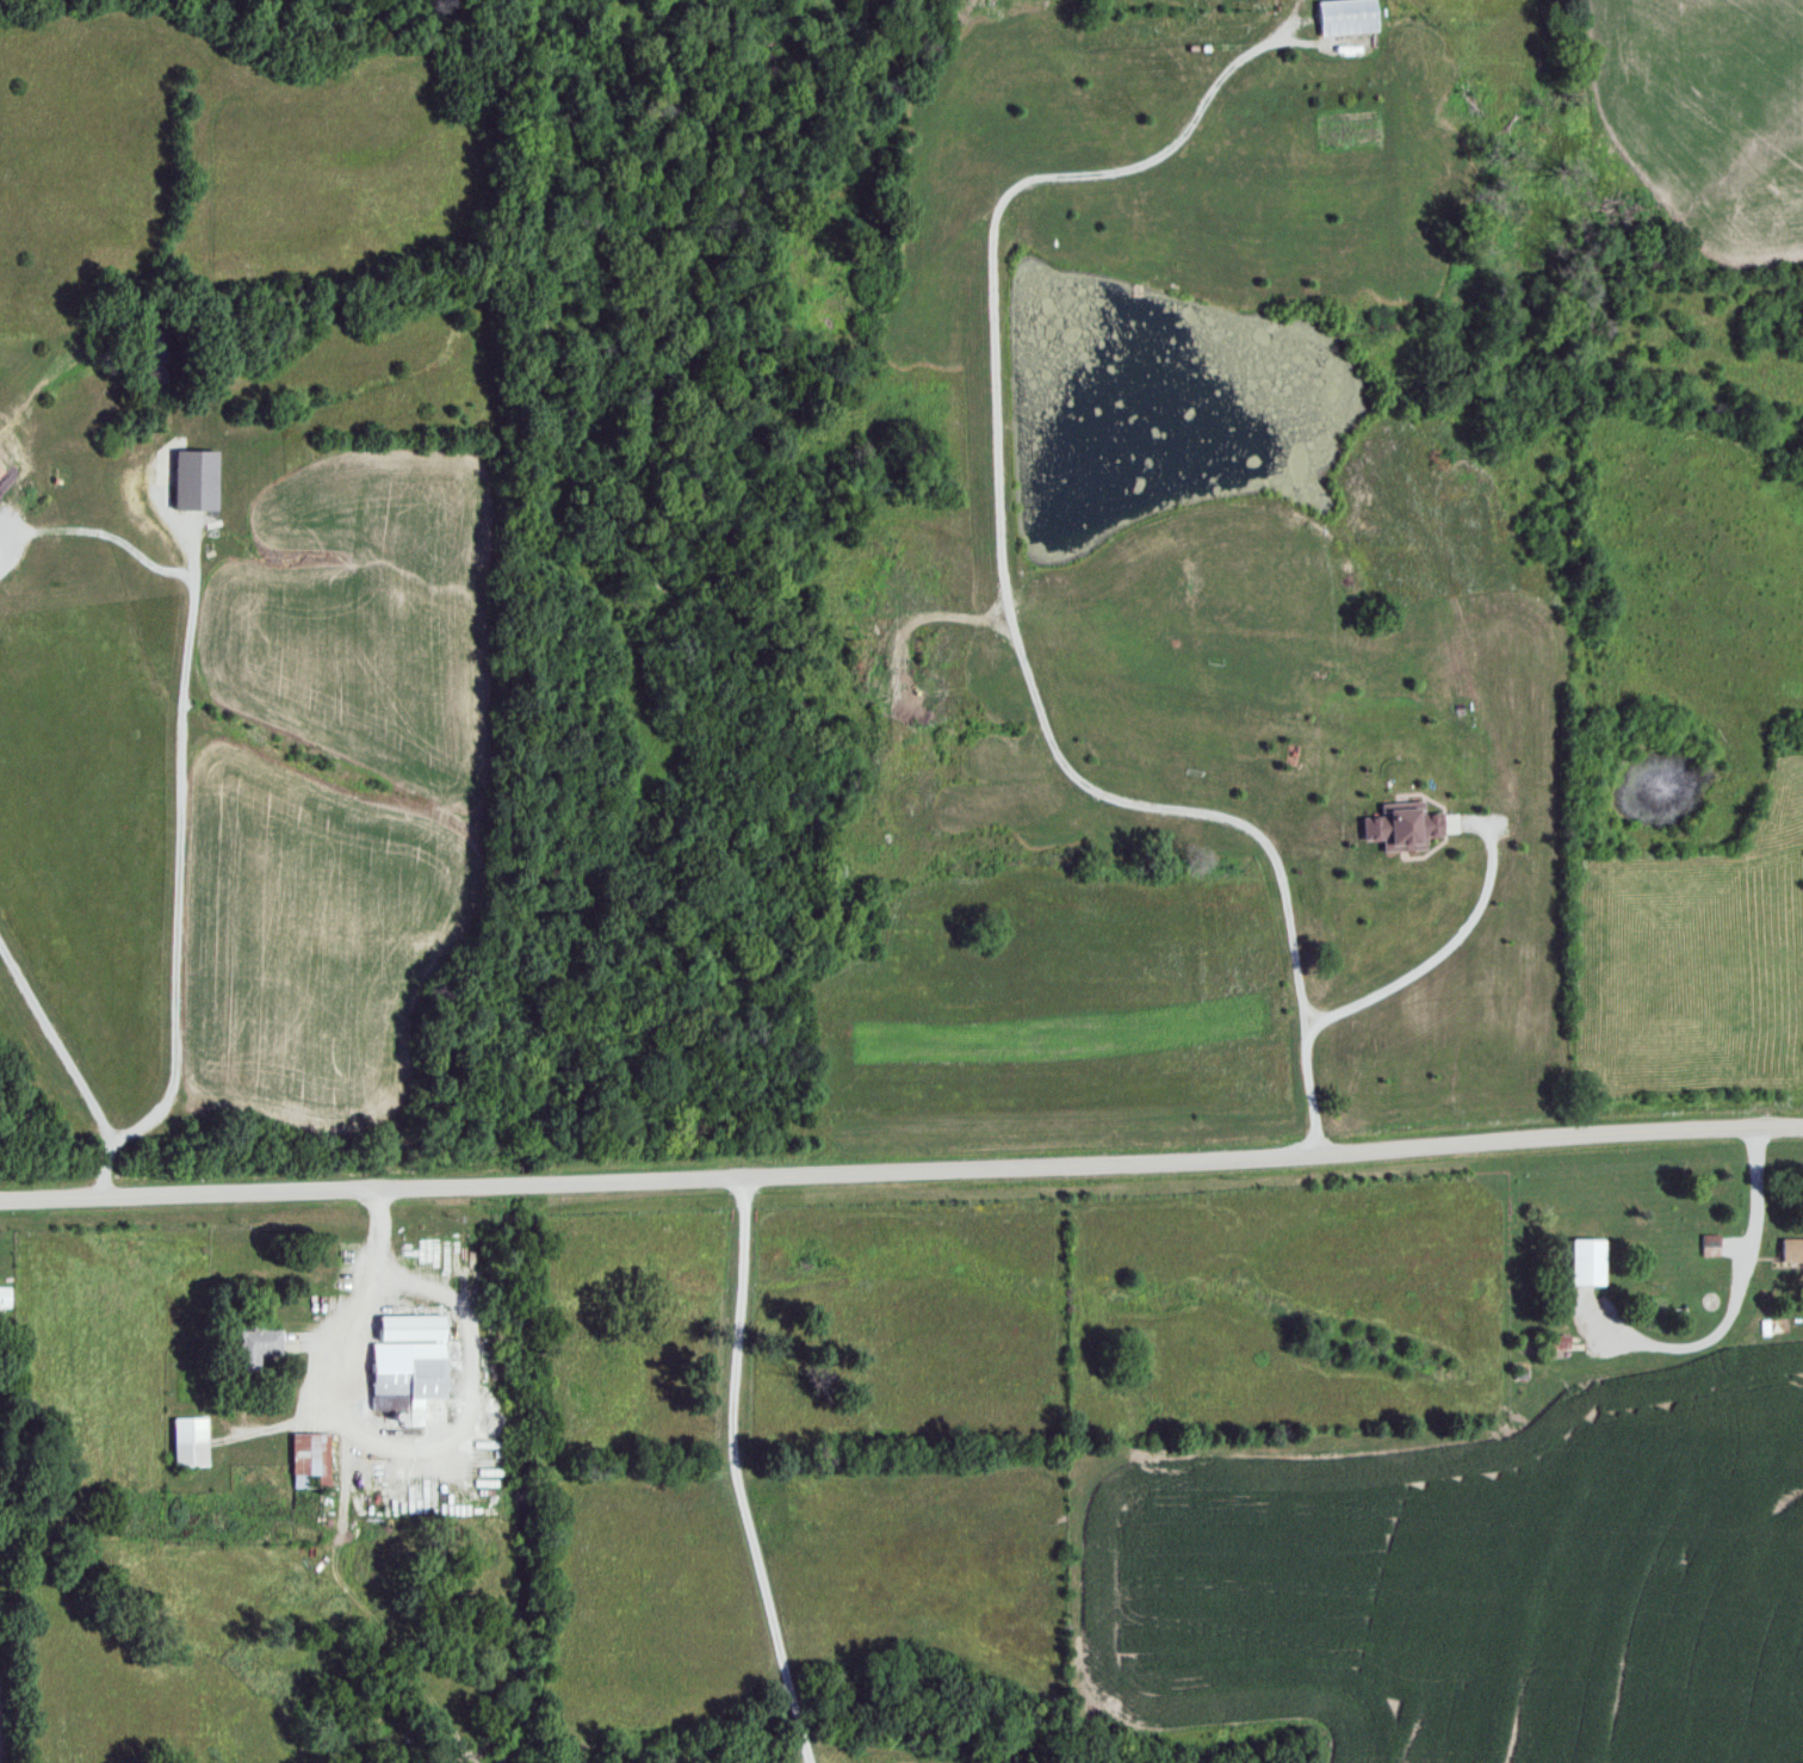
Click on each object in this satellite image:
building: (1344, 17)
building: (192, 480)
road: (1411, 533)
road: (901, 1171)
building: (1710, 1245)
building: (1791, 1249)
building: (1584, 1261)
building: (4, 1295)
building: (1555, 1341)
building: (254, 1346)
building: (403, 1377)
building: (186, 1441)
building: (309, 1460)

